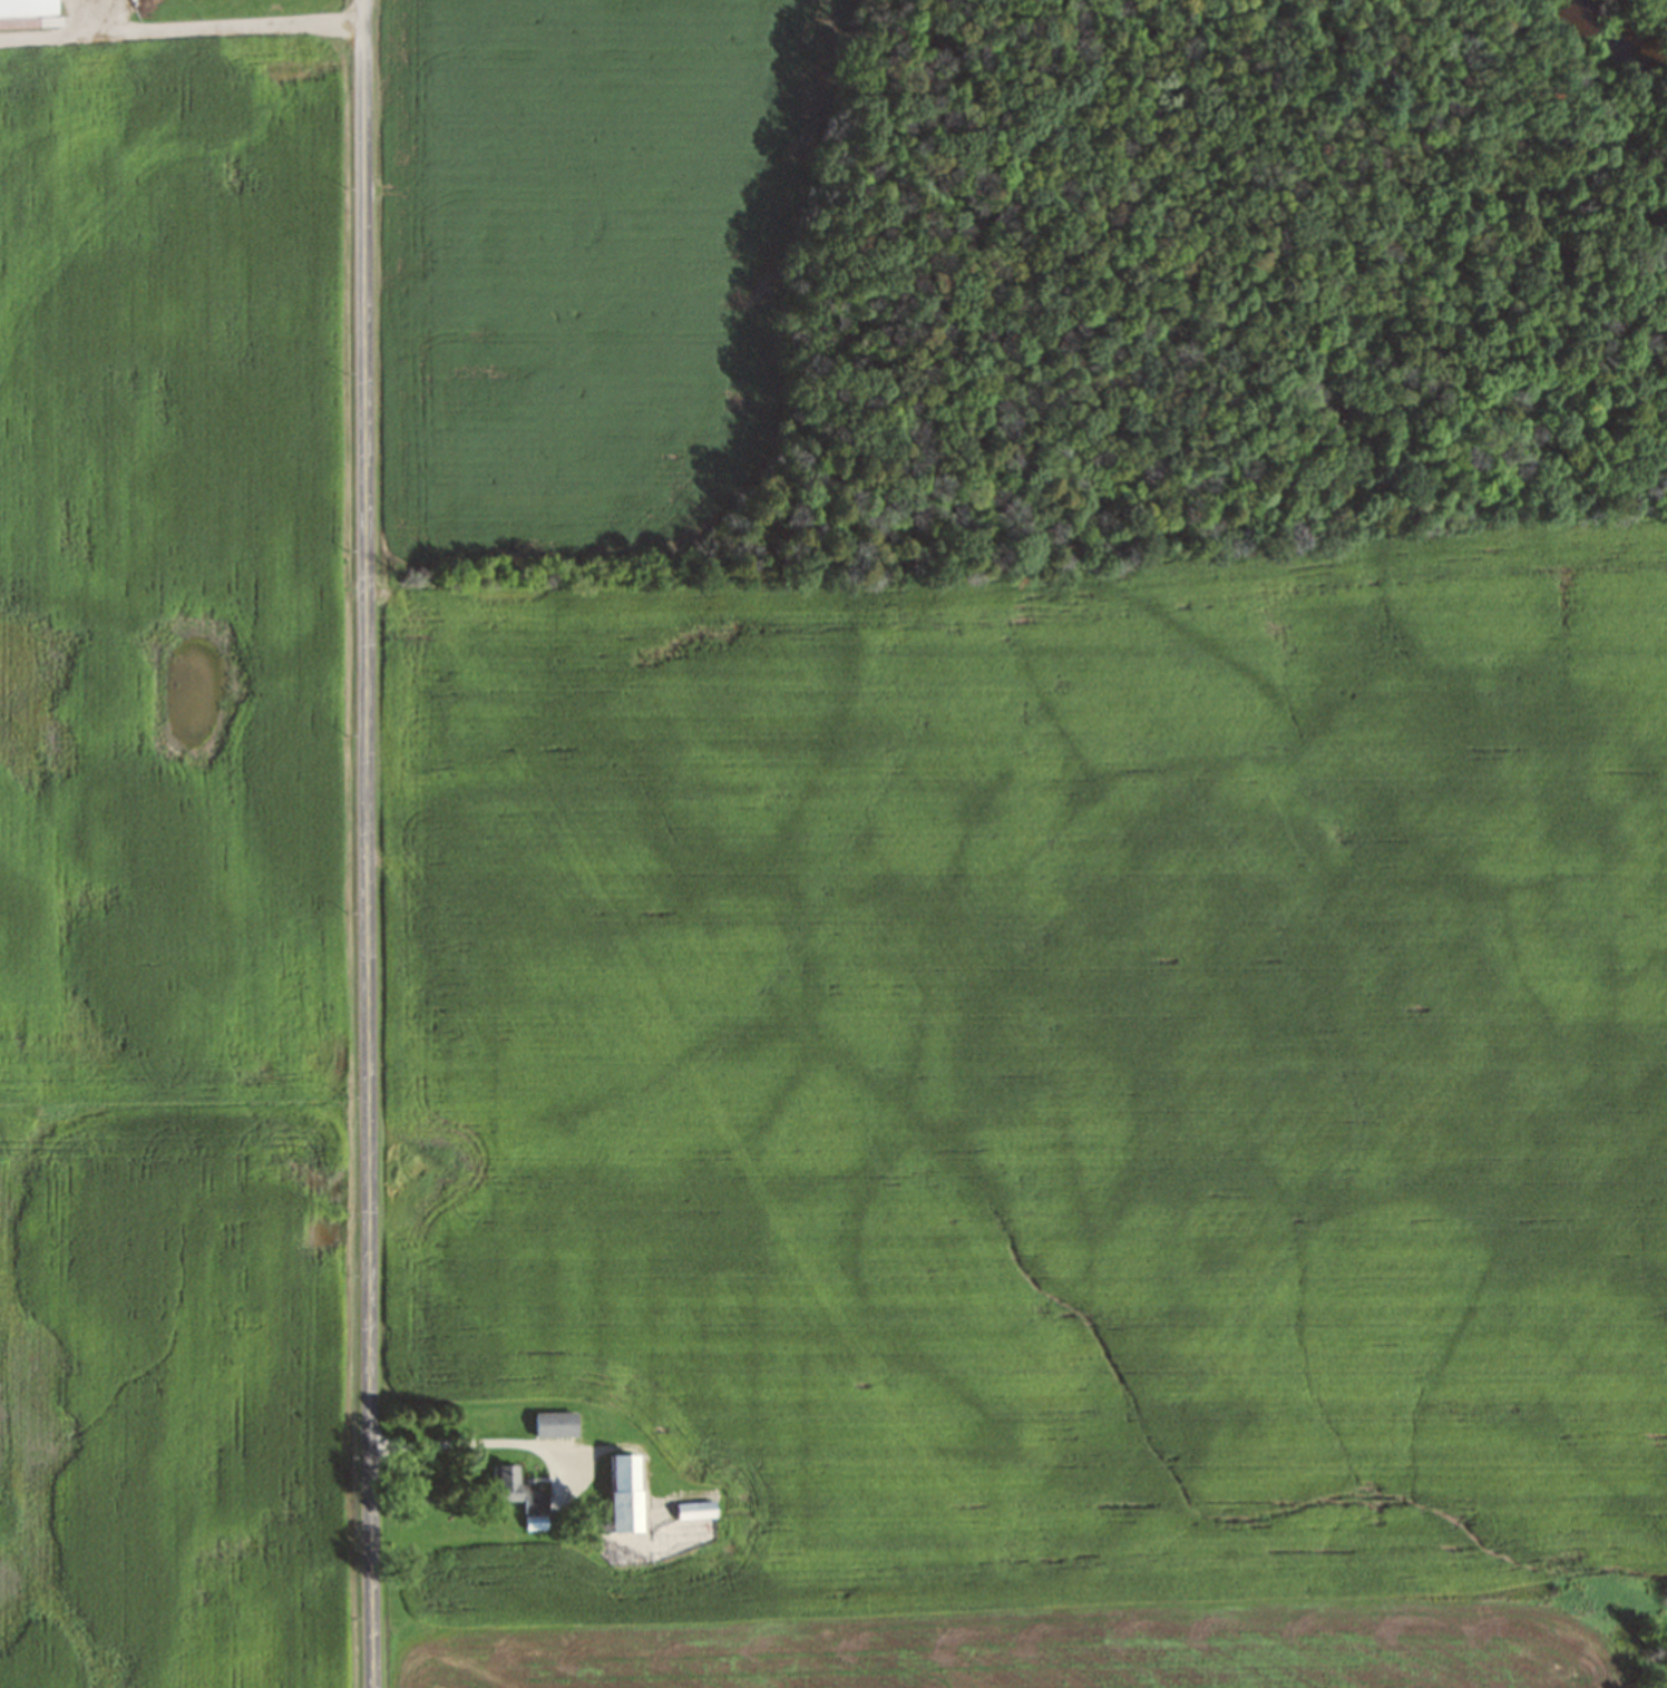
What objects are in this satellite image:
building: (27, 9)
road: (222, 25)
road: (52, 35)
river: (1596, 52)
road: (369, 843)
building: (555, 1424)
building: (626, 1493)
building: (519, 1495)
building: (695, 1510)

